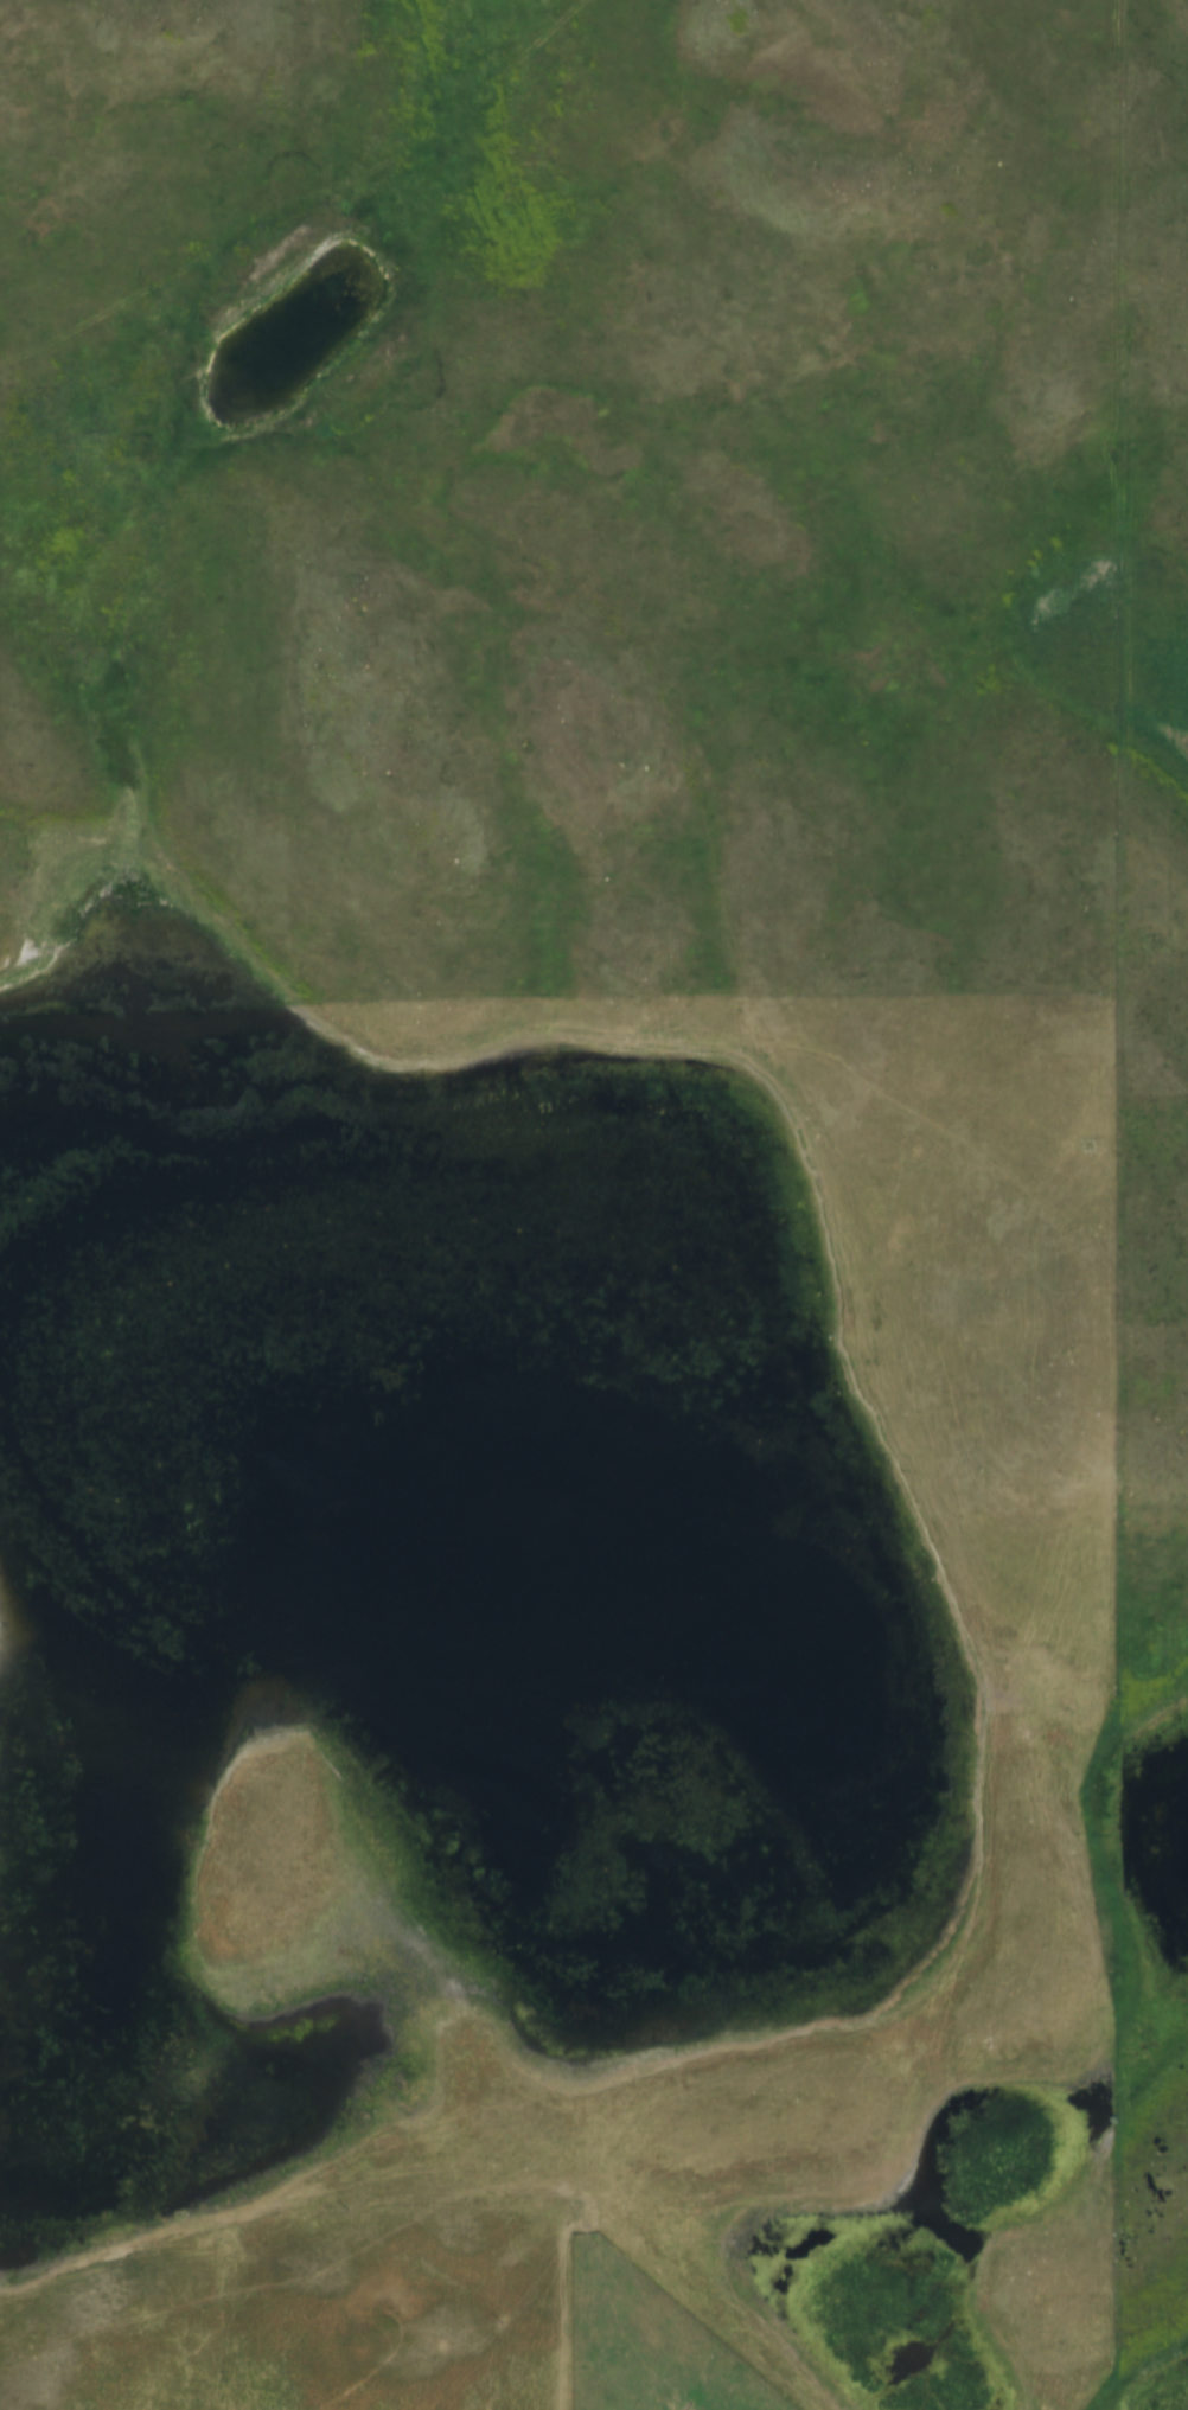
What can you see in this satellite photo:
road: (1066, 1204)

